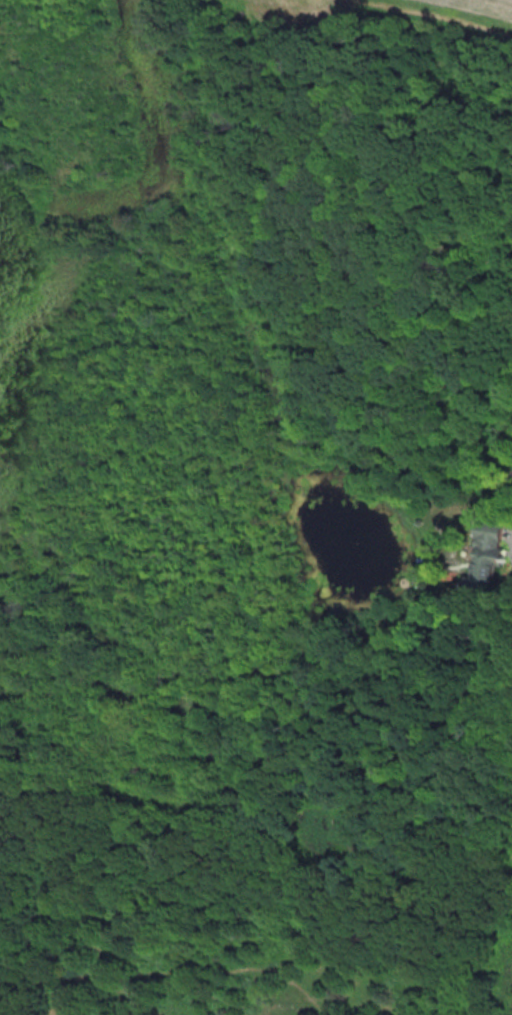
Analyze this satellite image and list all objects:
building: (490, 554)

